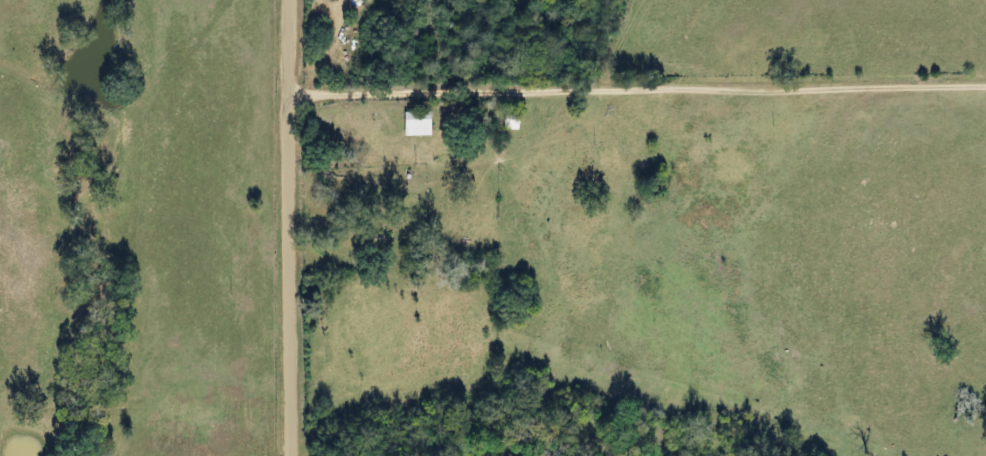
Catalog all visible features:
road: (634, 87)
building: (506, 121)
building: (410, 123)
road: (284, 227)

